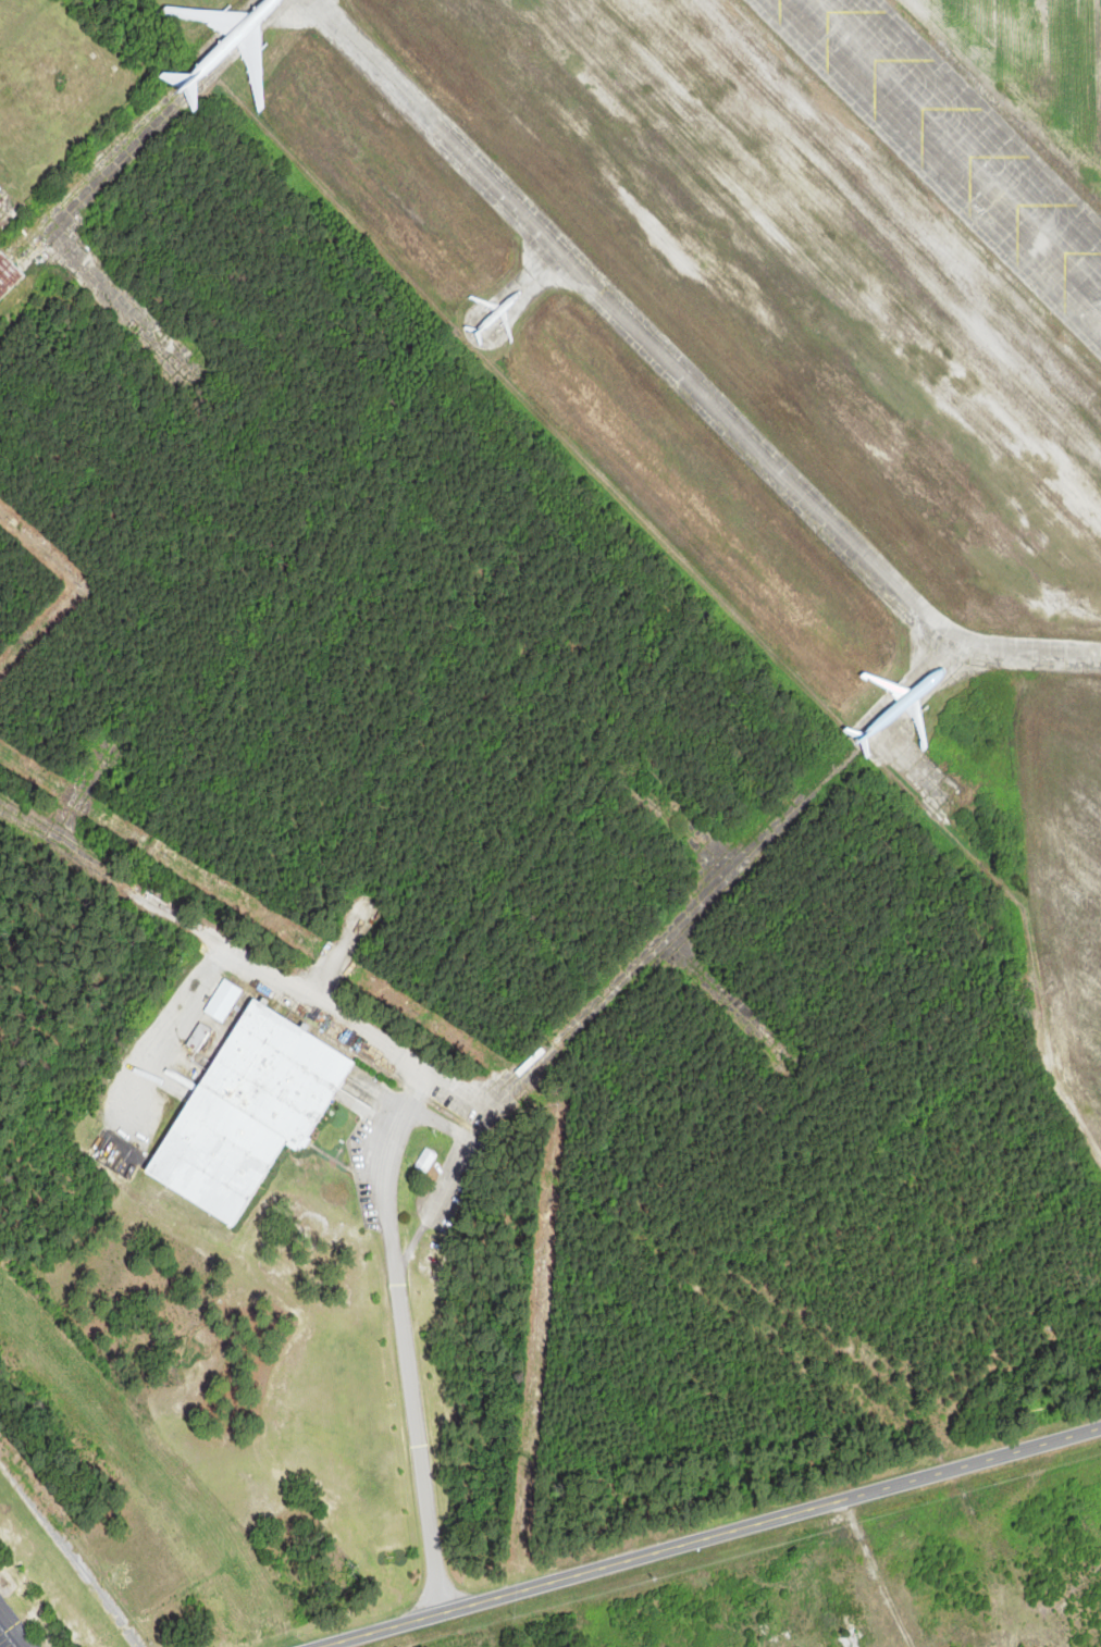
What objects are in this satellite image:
airport taxiway: (951, 147)
building: (8, 275)
airport taxiway: (682, 375)
building: (250, 1113)
road: (710, 1537)
road: (15, 1625)
parking lot: (14, 1629)

